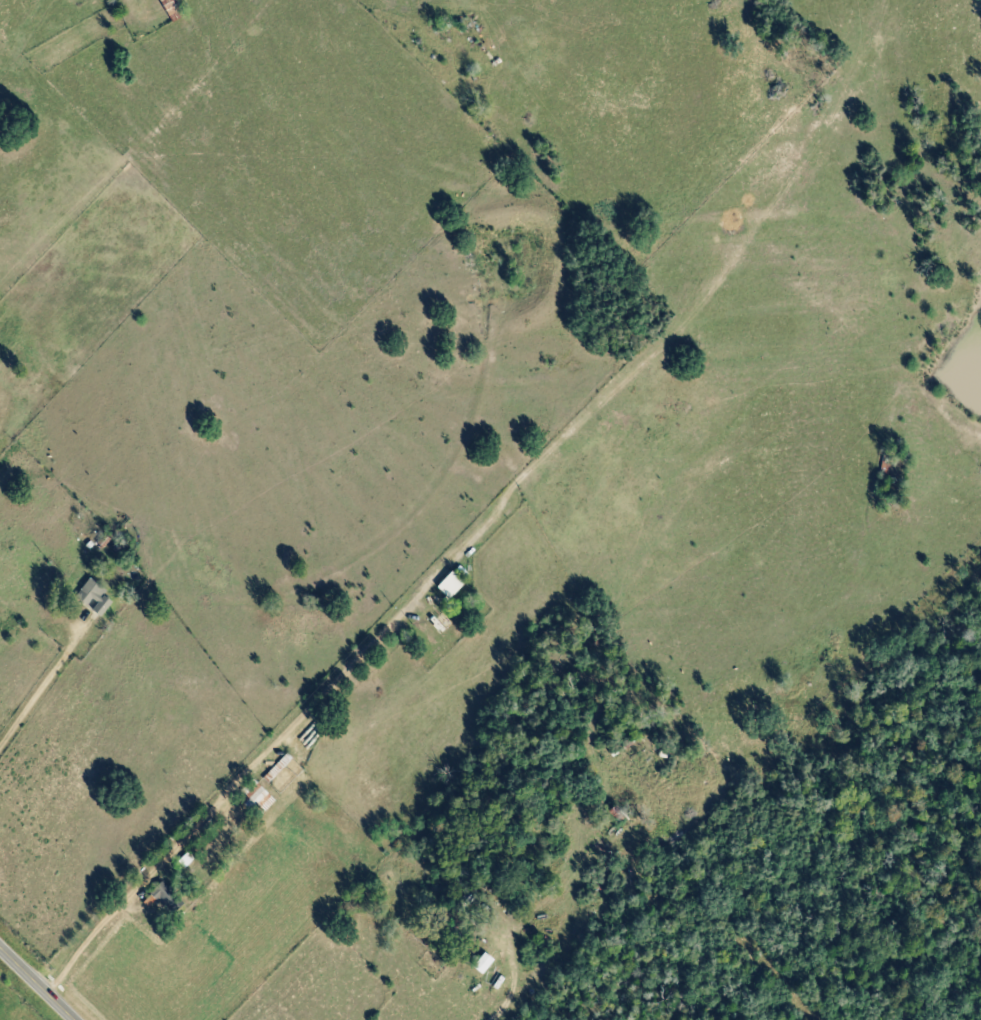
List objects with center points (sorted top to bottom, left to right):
building: (170, 3)
road: (3, 9)
building: (453, 585)
building: (95, 596)
road: (42, 691)
road: (258, 771)
building: (164, 896)
road: (544, 936)
building: (484, 963)
road: (38, 983)

